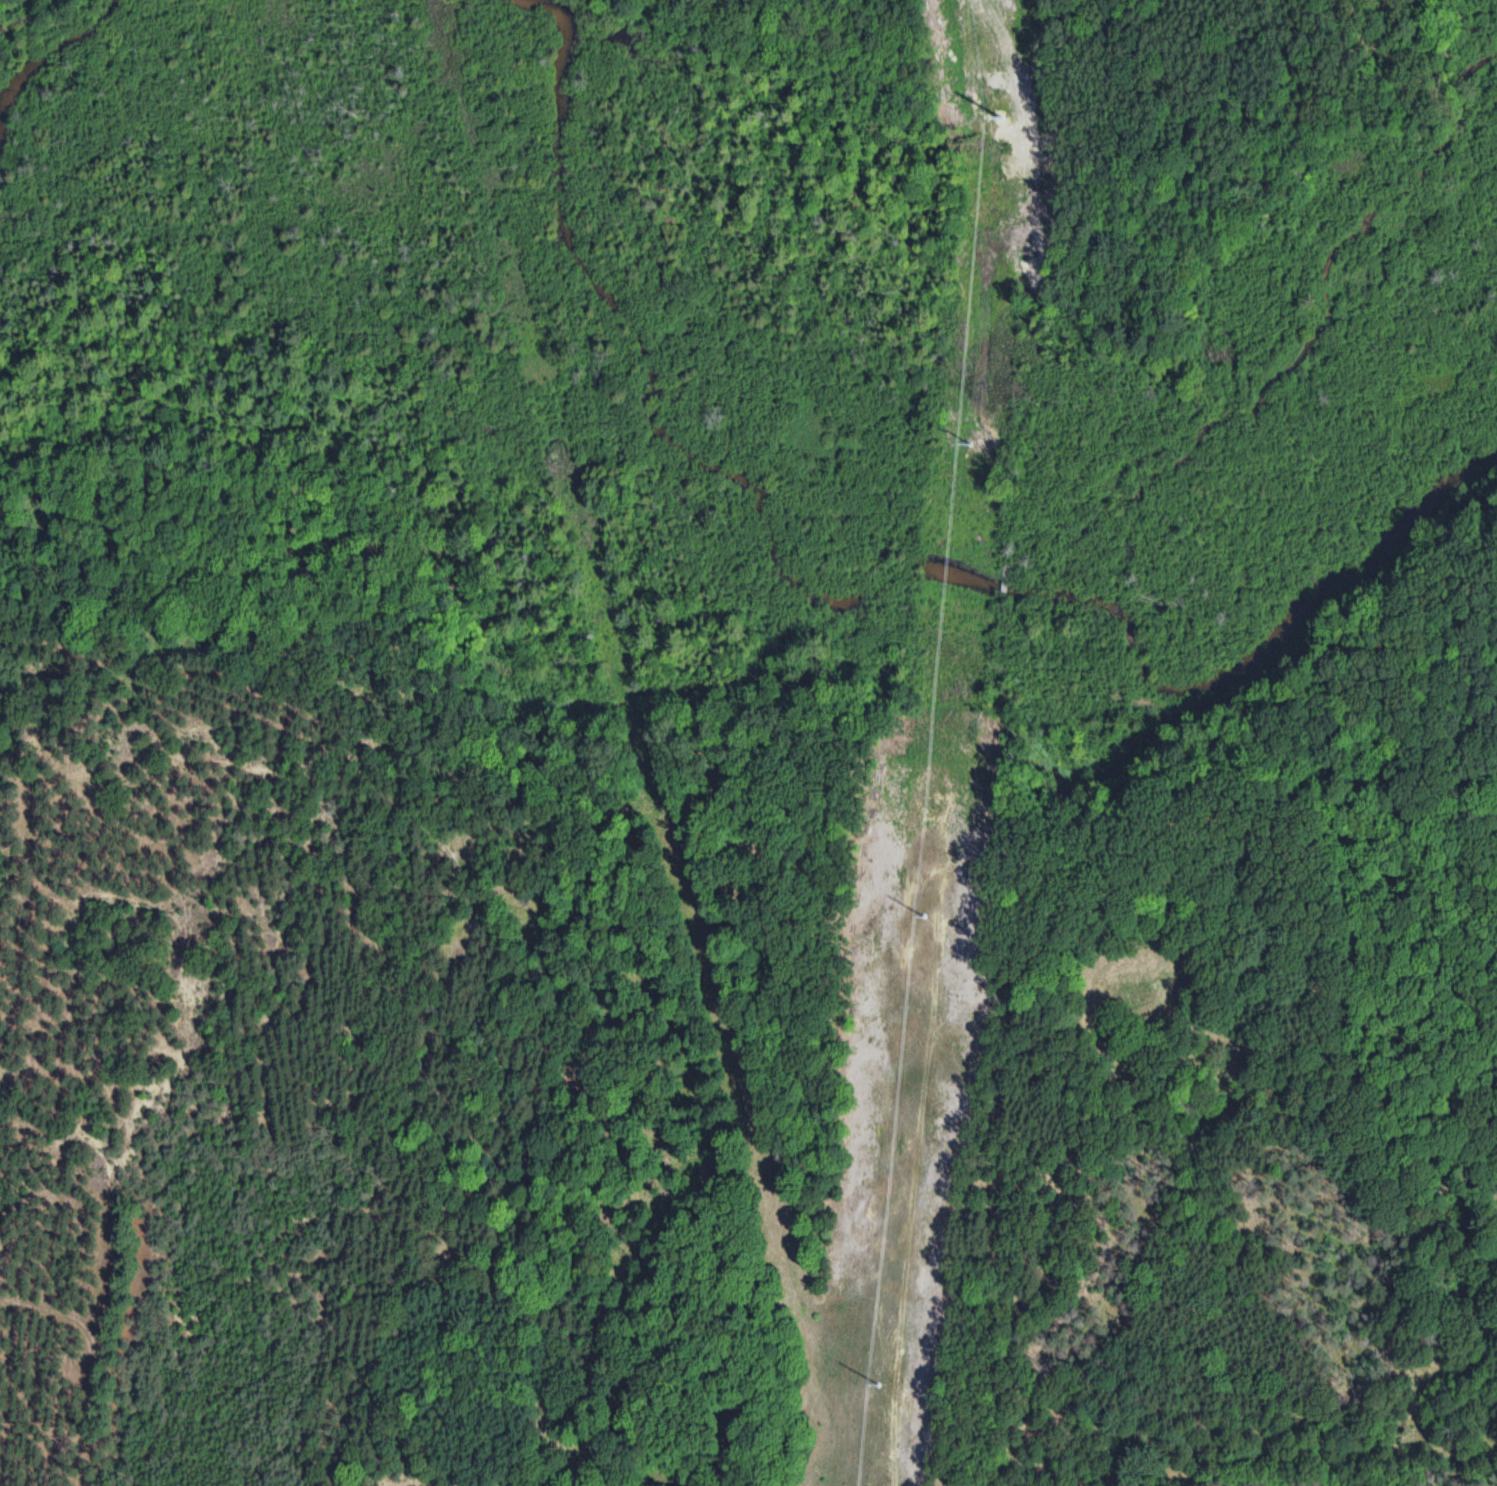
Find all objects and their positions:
river: (36, 62)
river: (872, 590)

